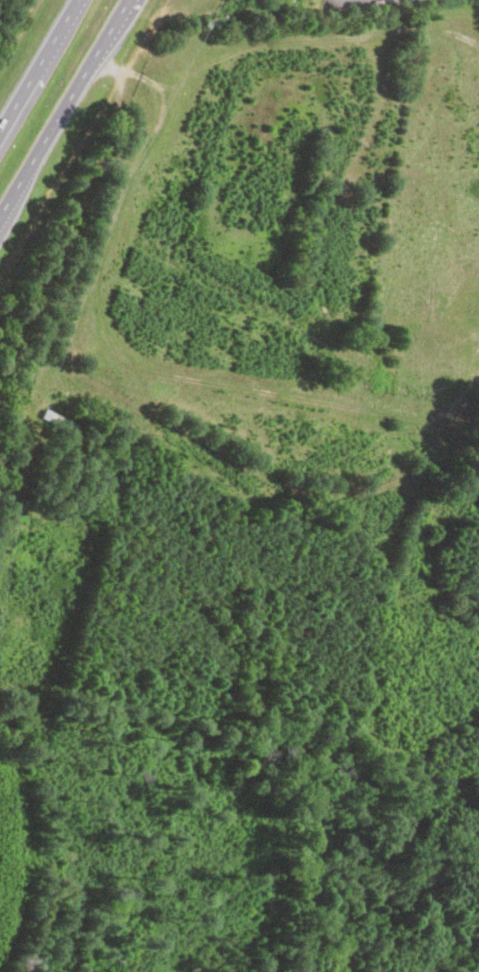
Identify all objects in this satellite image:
road: (38, 64)
road: (63, 106)
road: (111, 368)
building: (58, 421)

